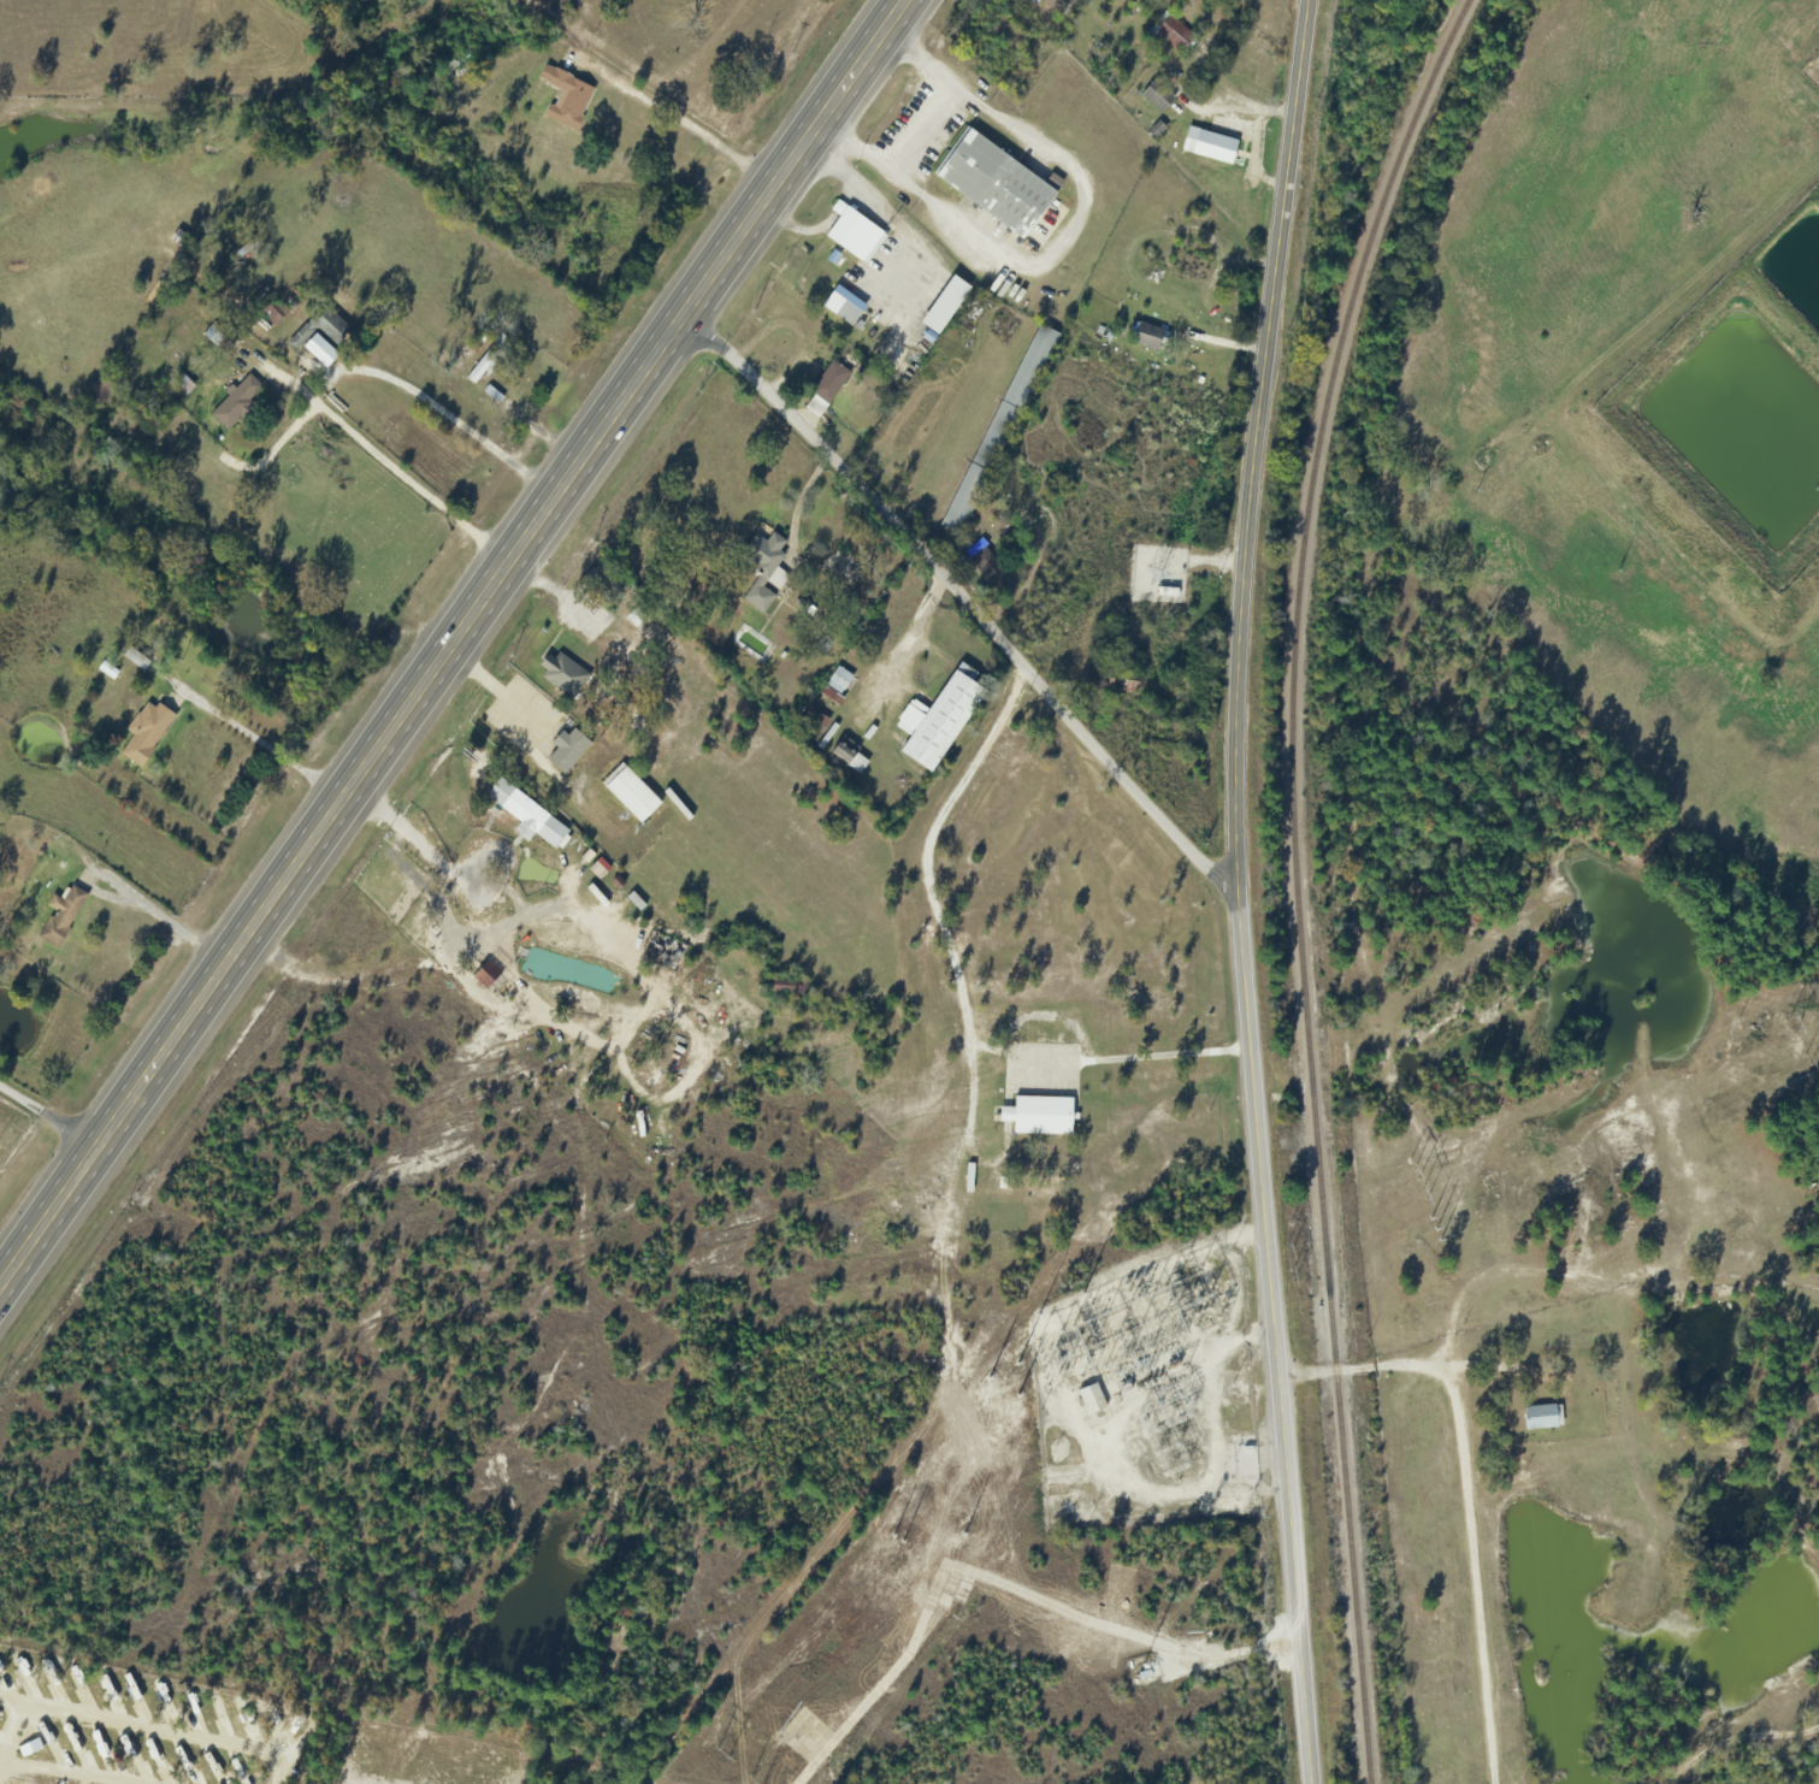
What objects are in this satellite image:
building: (1030, 1)
building: (1006, 35)
building: (1171, 35)
building: (1811, 70)
building: (1156, 98)
building: (565, 99)
road: (673, 116)
building: (1207, 147)
building: (993, 187)
building: (852, 235)
building: (1188, 267)
building: (943, 306)
building: (846, 314)
building: (318, 330)
building: (214, 336)
building: (1148, 338)
building: (486, 361)
building: (178, 383)
building: (825, 390)
building: (99, 394)
building: (234, 404)
wastewater plant: (1741, 406)
building: (998, 431)
building: (982, 562)
building: (763, 571)
building: (601, 585)
road: (963, 599)
road: (450, 639)
building: (562, 677)
building: (1122, 681)
building: (837, 683)
building: (937, 721)
building: (144, 732)
building: (841, 751)
building: (628, 794)
railway: (1295, 879)
road: (1236, 891)
building: (60, 917)
building: (662, 950)
road: (449, 983)
power tower: (1777, 1015)
power tower: (1799, 1055)
building: (1038, 1117)
road: (46, 1120)
power tower: (1411, 1178)
power tower: (1421, 1218)
power tower: (1286, 1246)
power tower: (998, 1370)
power tower: (1023, 1393)
power substation: (1148, 1394)
building: (1089, 1401)
building: (1541, 1418)
building: (1247, 1460)
road: (1477, 1490)
power tower: (963, 1525)
power tower: (899, 1536)
power tower: (711, 1755)
power tower: (755, 1783)

